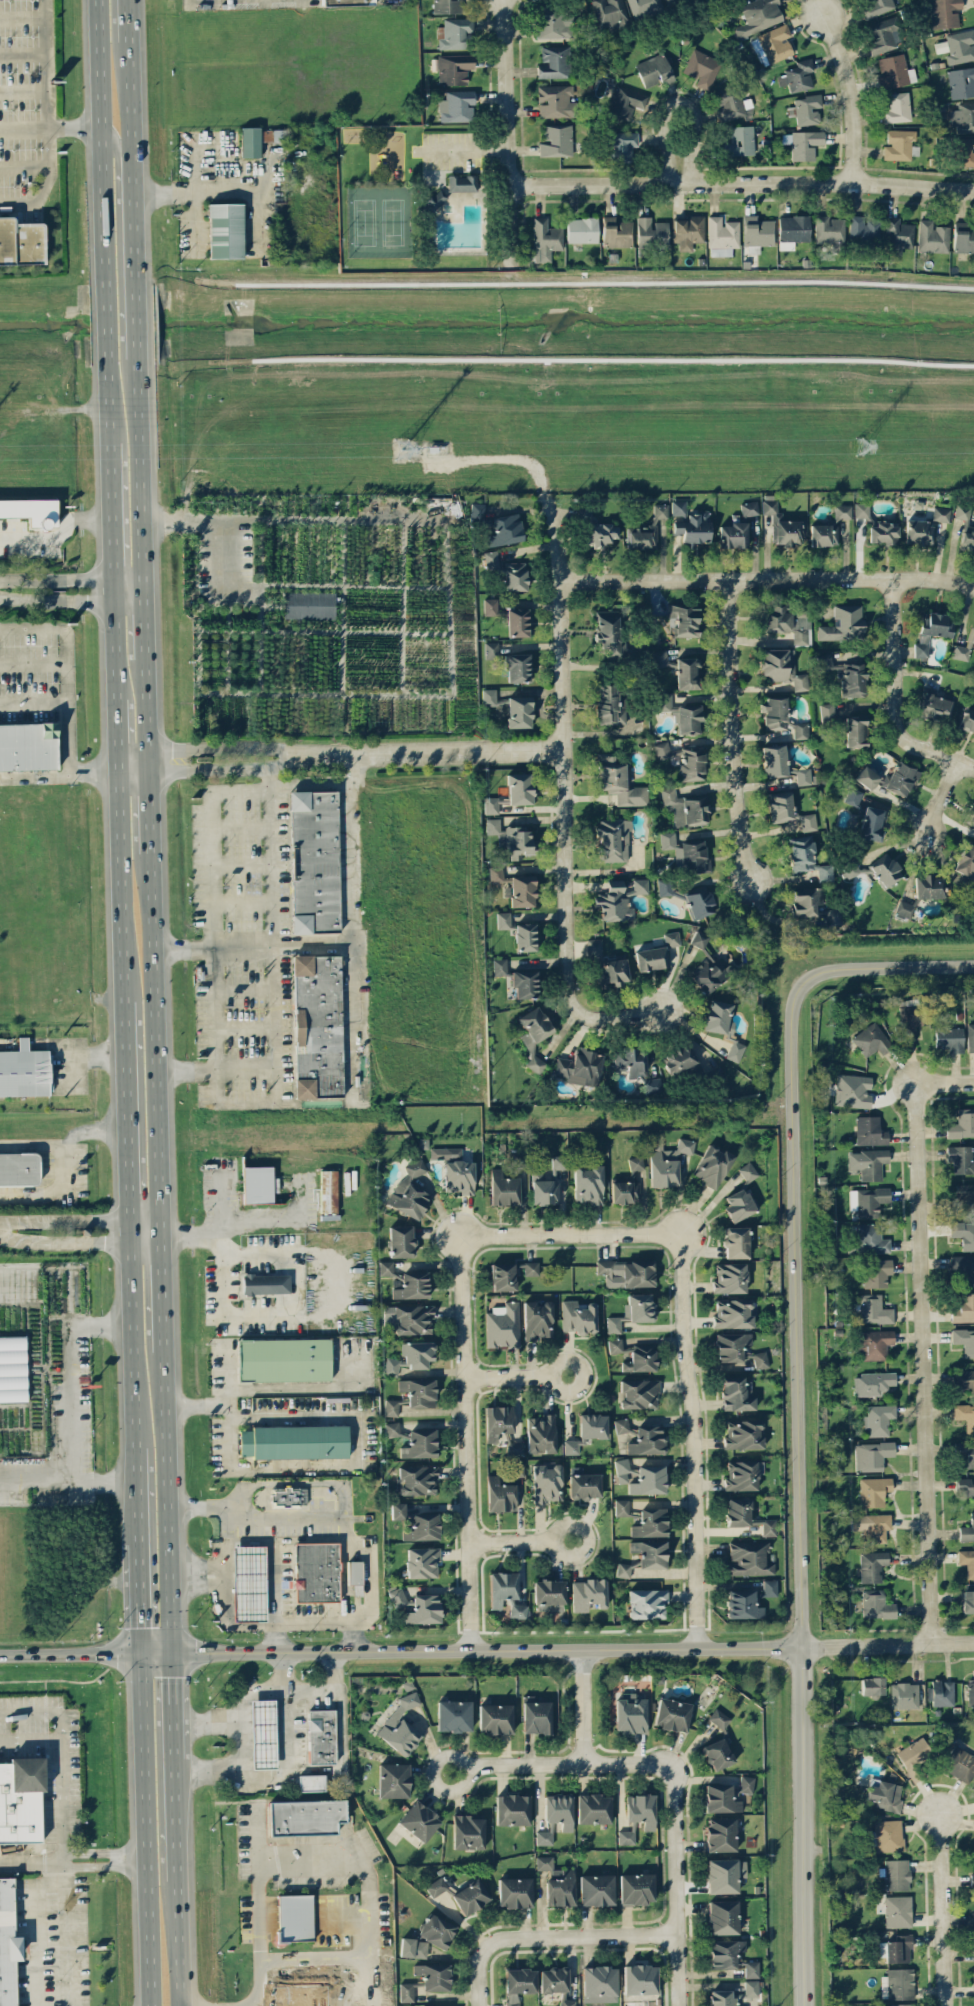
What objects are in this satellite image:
road: (225, 0)
road: (304, 0)
building: (665, 0)
road: (193, 1)
road: (263, 1)
building: (346, 2)
building: (447, 6)
building: (644, 7)
building: (875, 7)
building: (608, 11)
building: (944, 12)
building: (758, 15)
road: (23, 17)
road: (127, 20)
building: (552, 21)
building: (453, 33)
building: (880, 36)
building: (773, 44)
building: (957, 46)
road: (24, 53)
building: (552, 62)
building: (453, 68)
building: (701, 68)
building: (654, 70)
building: (894, 71)
building: (797, 76)
building: (961, 82)
road: (24, 90)
road: (850, 95)
building: (554, 100)
building: (622, 102)
road: (681, 103)
building: (455, 104)
building: (731, 104)
building: (897, 107)
building: (806, 109)
road: (129, 118)
building: (963, 118)
road: (49, 122)
road: (50, 127)
road: (506, 135)
building: (259, 139)
building: (556, 140)
road: (100, 141)
building: (740, 141)
building: (805, 144)
building: (899, 144)
building: (621, 145)
building: (966, 151)
road: (117, 158)
road: (25, 165)
road: (226, 171)
building: (461, 182)
road: (741, 182)
road: (219, 193)
building: (434, 200)
road: (195, 201)
building: (582, 229)
building: (828, 229)
building: (863, 229)
building: (224, 230)
building: (792, 230)
building: (687, 231)
building: (757, 231)
building: (616, 232)
building: (651, 232)
building: (722, 235)
building: (897, 235)
building: (932, 237)
building: (963, 237)
road: (133, 238)
building: (545, 239)
building: (20, 242)
road: (135, 319)
road: (106, 329)
river: (487, 330)
road: (109, 408)
power tower: (870, 447)
power tower: (413, 449)
road: (140, 473)
building: (678, 507)
building: (749, 508)
building: (861, 509)
building: (31, 511)
building: (660, 511)
building: (961, 511)
building: (841, 512)
building: (476, 513)
building: (941, 514)
road: (112, 521)
building: (782, 524)
building: (693, 527)
building: (505, 529)
building: (596, 530)
road: (216, 532)
building: (882, 532)
building: (917, 532)
building: (823, 534)
building: (733, 535)
road: (58, 536)
building: (642, 537)
building: (967, 537)
building: (491, 560)
building: (515, 576)
road: (72, 579)
road: (766, 579)
road: (129, 595)
road: (57, 601)
building: (309, 605)
building: (490, 606)
building: (684, 620)
building: (517, 622)
building: (786, 622)
road: (145, 623)
building: (843, 623)
road: (69, 630)
building: (609, 630)
building: (931, 631)
building: (971, 636)
building: (491, 648)
road: (115, 649)
building: (960, 652)
building: (660, 658)
road: (35, 662)
building: (825, 662)
building: (516, 667)
building: (782, 667)
building: (687, 673)
building: (851, 679)
road: (895, 699)
road: (147, 702)
building: (934, 703)
building: (609, 705)
building: (518, 711)
building: (774, 713)
building: (681, 714)
building: (966, 719)
road: (70, 721)
building: (377, 721)
road: (734, 728)
building: (800, 730)
building: (855, 730)
road: (117, 731)
building: (27, 746)
road: (237, 746)
road: (444, 754)
road: (133, 757)
road: (149, 758)
building: (774, 761)
building: (691, 763)
road: (133, 767)
road: (237, 767)
road: (357, 771)
building: (803, 776)
building: (866, 777)
building: (901, 777)
road: (41, 779)
building: (618, 781)
building: (519, 788)
road: (940, 795)
building: (852, 796)
building: (491, 805)
road: (568, 807)
building: (685, 808)
building: (788, 810)
road: (150, 811)
building: (971, 814)
building: (871, 823)
road: (214, 829)
building: (511, 838)
building: (613, 839)
building: (685, 852)
building: (806, 858)
building: (966, 860)
building: (313, 861)
building: (853, 869)
building: (885, 869)
building: (495, 873)
road: (121, 883)
building: (664, 887)
building: (521, 890)
building: (972, 892)
road: (349, 895)
building: (618, 901)
building: (699, 902)
building: (813, 905)
building: (503, 919)
building: (525, 936)
building: (671, 938)
building: (698, 939)
road: (312, 946)
road: (246, 947)
road: (274, 957)
building: (651, 958)
building: (607, 965)
building: (499, 966)
building: (709, 975)
building: (524, 983)
road: (219, 1008)
building: (910, 1020)
building: (316, 1026)
building: (970, 1037)
building: (949, 1038)
building: (871, 1040)
road: (156, 1041)
road: (87, 1055)
building: (679, 1057)
building: (630, 1061)
building: (579, 1067)
building: (24, 1070)
road: (946, 1084)
building: (653, 1085)
building: (852, 1090)
road: (127, 1121)
building: (962, 1124)
building: (869, 1131)
road: (29, 1145)
building: (445, 1152)
road: (54, 1157)
building: (960, 1158)
building: (667, 1162)
building: (868, 1163)
building: (712, 1165)
building: (19, 1168)
building: (747, 1171)
building: (458, 1176)
building: (547, 1183)
building: (588, 1184)
building: (256, 1185)
building: (503, 1188)
building: (328, 1191)
building: (409, 1191)
building: (625, 1191)
road: (221, 1196)
building: (964, 1197)
building: (868, 1201)
building: (739, 1204)
road: (279, 1216)
road: (81, 1220)
building: (963, 1234)
road: (146, 1235)
road: (571, 1235)
building: (869, 1238)
building: (401, 1240)
road: (65, 1242)
building: (735, 1242)
building: (385, 1267)
building: (531, 1268)
building: (963, 1269)
building: (626, 1272)
building: (876, 1272)
building: (502, 1276)
building: (729, 1278)
building: (396, 1279)
building: (265, 1282)
building: (412, 1285)
road: (162, 1290)
building: (964, 1308)
building: (873, 1309)
building: (632, 1311)
building: (732, 1313)
road: (255, 1315)
building: (578, 1317)
building: (408, 1318)
building: (537, 1319)
building: (502, 1325)
building: (964, 1340)
road: (133, 1343)
building: (874, 1343)
building: (615, 1345)
building: (730, 1346)
building: (411, 1356)
building: (283, 1358)
building: (640, 1358)
building: (759, 1359)
road: (926, 1364)
building: (12, 1367)
road: (71, 1374)
road: (227, 1375)
road: (516, 1377)
building: (964, 1378)
building: (872, 1382)
road: (310, 1386)
building: (418, 1391)
building: (638, 1393)
building: (737, 1394)
building: (391, 1407)
building: (965, 1415)
building: (878, 1419)
building: (498, 1421)
building: (592, 1425)
building: (622, 1425)
building: (392, 1429)
building: (541, 1434)
building: (742, 1434)
building: (292, 1440)
building: (647, 1440)
road: (695, 1440)
building: (419, 1443)
road: (465, 1444)
building: (571, 1446)
building: (515, 1447)
building: (965, 1451)
building: (872, 1454)
road: (326, 1466)
building: (510, 1474)
building: (742, 1474)
building: (640, 1476)
building: (416, 1479)
road: (68, 1480)
building: (547, 1482)
building: (583, 1485)
building: (965, 1486)
building: (873, 1490)
road: (137, 1493)
building: (500, 1495)
building: (288, 1496)
road: (167, 1498)
building: (397, 1510)
road: (333, 1514)
building: (746, 1515)
building: (650, 1522)
building: (871, 1526)
building: (422, 1527)
building: (967, 1529)
road: (310, 1539)
road: (799, 1541)
road: (519, 1542)
road: (227, 1545)
building: (650, 1553)
building: (748, 1558)
road: (272, 1559)
building: (422, 1561)
building: (967, 1561)
building: (872, 1565)
building: (623, 1569)
building: (316, 1571)
building: (355, 1575)
building: (248, 1582)
building: (769, 1587)
building: (506, 1592)
building: (548, 1593)
building: (588, 1593)
road: (140, 1594)
building: (397, 1597)
building: (967, 1601)
building: (646, 1603)
building: (742, 1604)
building: (876, 1604)
building: (423, 1609)
road: (239, 1622)
road: (274, 1635)
road: (887, 1645)
road: (70, 1648)
traffic signals: (141, 1648)
road: (156, 1648)
traffic signals: (171, 1648)
building: (871, 1685)
road: (290, 1687)
building: (970, 1690)
building: (940, 1692)
building: (904, 1695)
road: (172, 1702)
road: (584, 1706)
building: (629, 1714)
building: (671, 1714)
building: (453, 1715)
building: (536, 1716)
road: (235, 1718)
building: (495, 1718)
building: (718, 1718)
building: (400, 1726)
road: (284, 1729)
building: (262, 1733)
building: (320, 1735)
road: (30, 1737)
road: (236, 1746)
parking lot: (49, 1753)
road: (61, 1754)
building: (717, 1754)
building: (914, 1757)
road: (560, 1763)
building: (959, 1763)
road: (315, 1768)
building: (392, 1779)
building: (311, 1782)
building: (746, 1783)
building: (884, 1795)
building: (721, 1798)
building: (19, 1801)
building: (593, 1808)
building: (512, 1809)
building: (558, 1809)
building: (641, 1809)
building: (306, 1815)
road: (176, 1819)
building: (419, 1820)
road: (147, 1826)
road: (803, 1826)
building: (467, 1831)
building: (720, 1834)
building: (886, 1835)
building: (543, 1837)
building: (626, 1837)
road: (104, 1850)
road: (32, 1858)
building: (544, 1862)
road: (105, 1864)
building: (972, 1871)
building: (895, 1874)
building: (721, 1875)
road: (369, 1878)
road: (673, 1884)
building: (436, 1887)
building: (559, 1887)
building: (636, 1888)
building: (596, 1889)
building: (514, 1891)
building: (470, 1896)
road: (258, 1903)
road: (943, 1909)
building: (897, 1910)
building: (294, 1916)
building: (722, 1916)
building: (972, 1917)
road: (36, 1929)
road: (67, 1931)
building: (427, 1937)
road: (580, 1937)
parking lot: (53, 1940)
building: (7, 1943)
building: (973, 1943)
road: (179, 1944)
building: (898, 1948)
building: (724, 1953)
road: (316, 1958)
building: (751, 1968)
building: (973, 1973)
road: (480, 1975)
building: (433, 1976)
building: (553, 1979)
building: (639, 1979)
road: (337, 1982)
building: (599, 1983)
building: (518, 1984)
building: (751, 1988)
building: (406, 1991)
building: (723, 1998)
building: (566, 2001)
building: (901, 2004)

